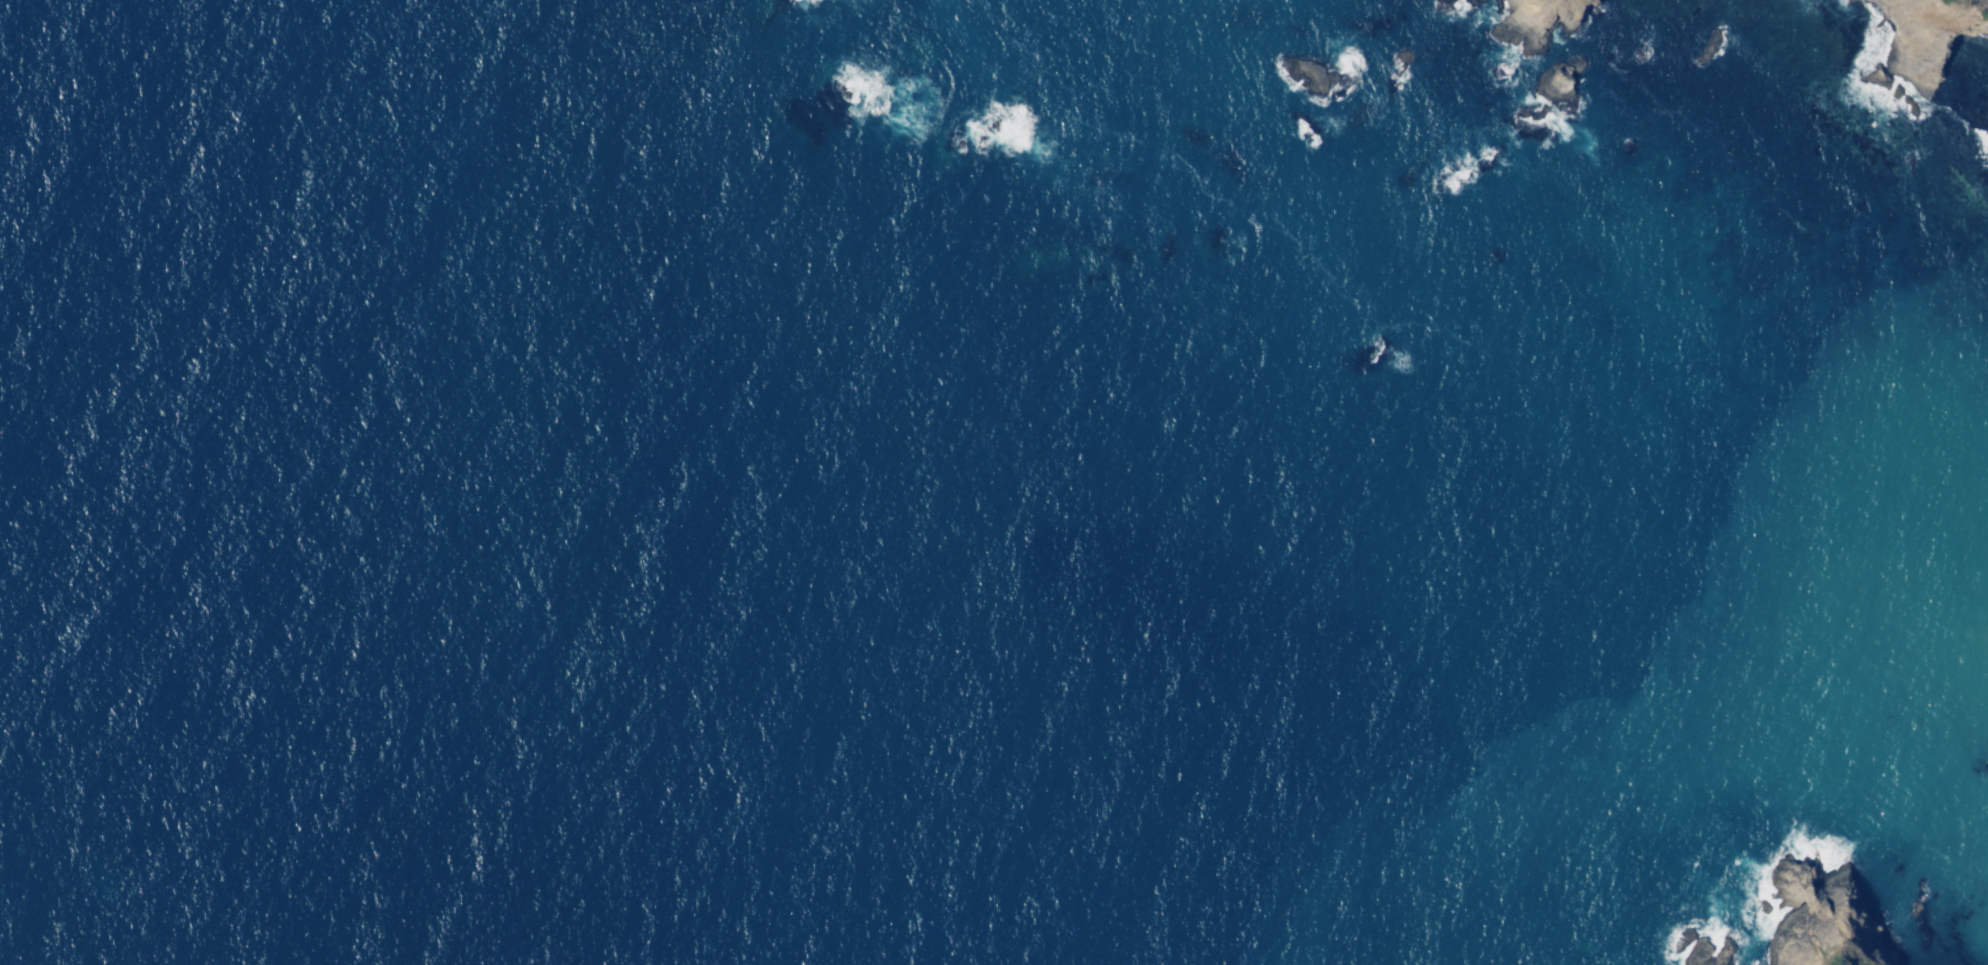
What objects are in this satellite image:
park: (1929, 37)

